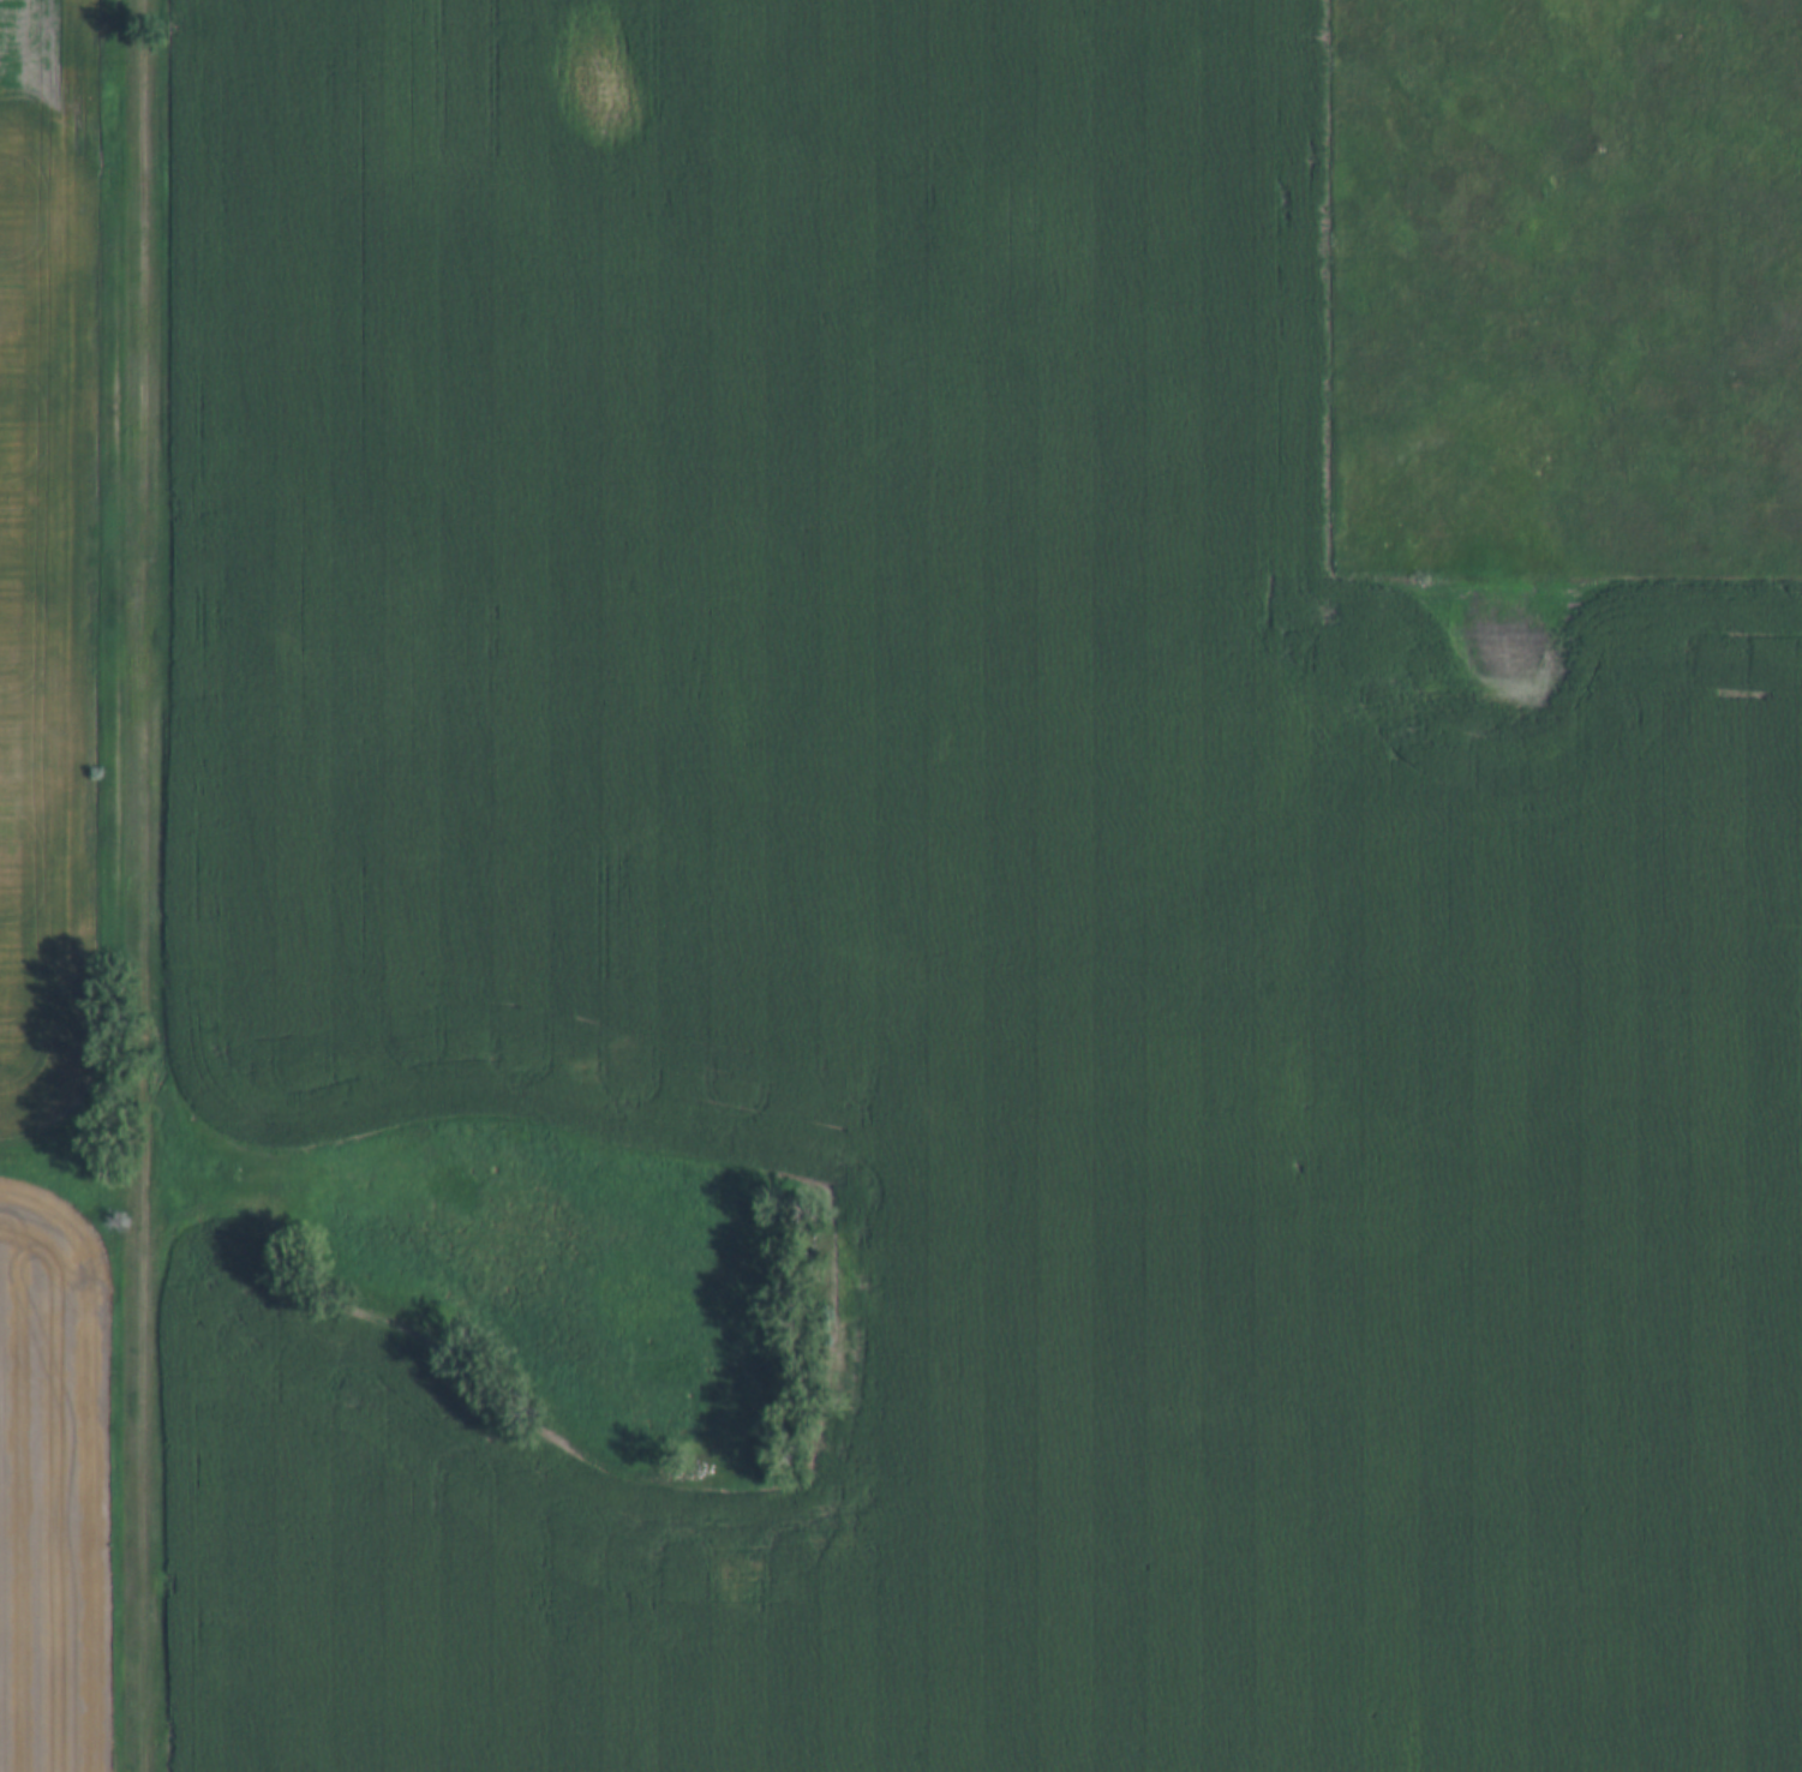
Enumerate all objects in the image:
road: (144, 885)

